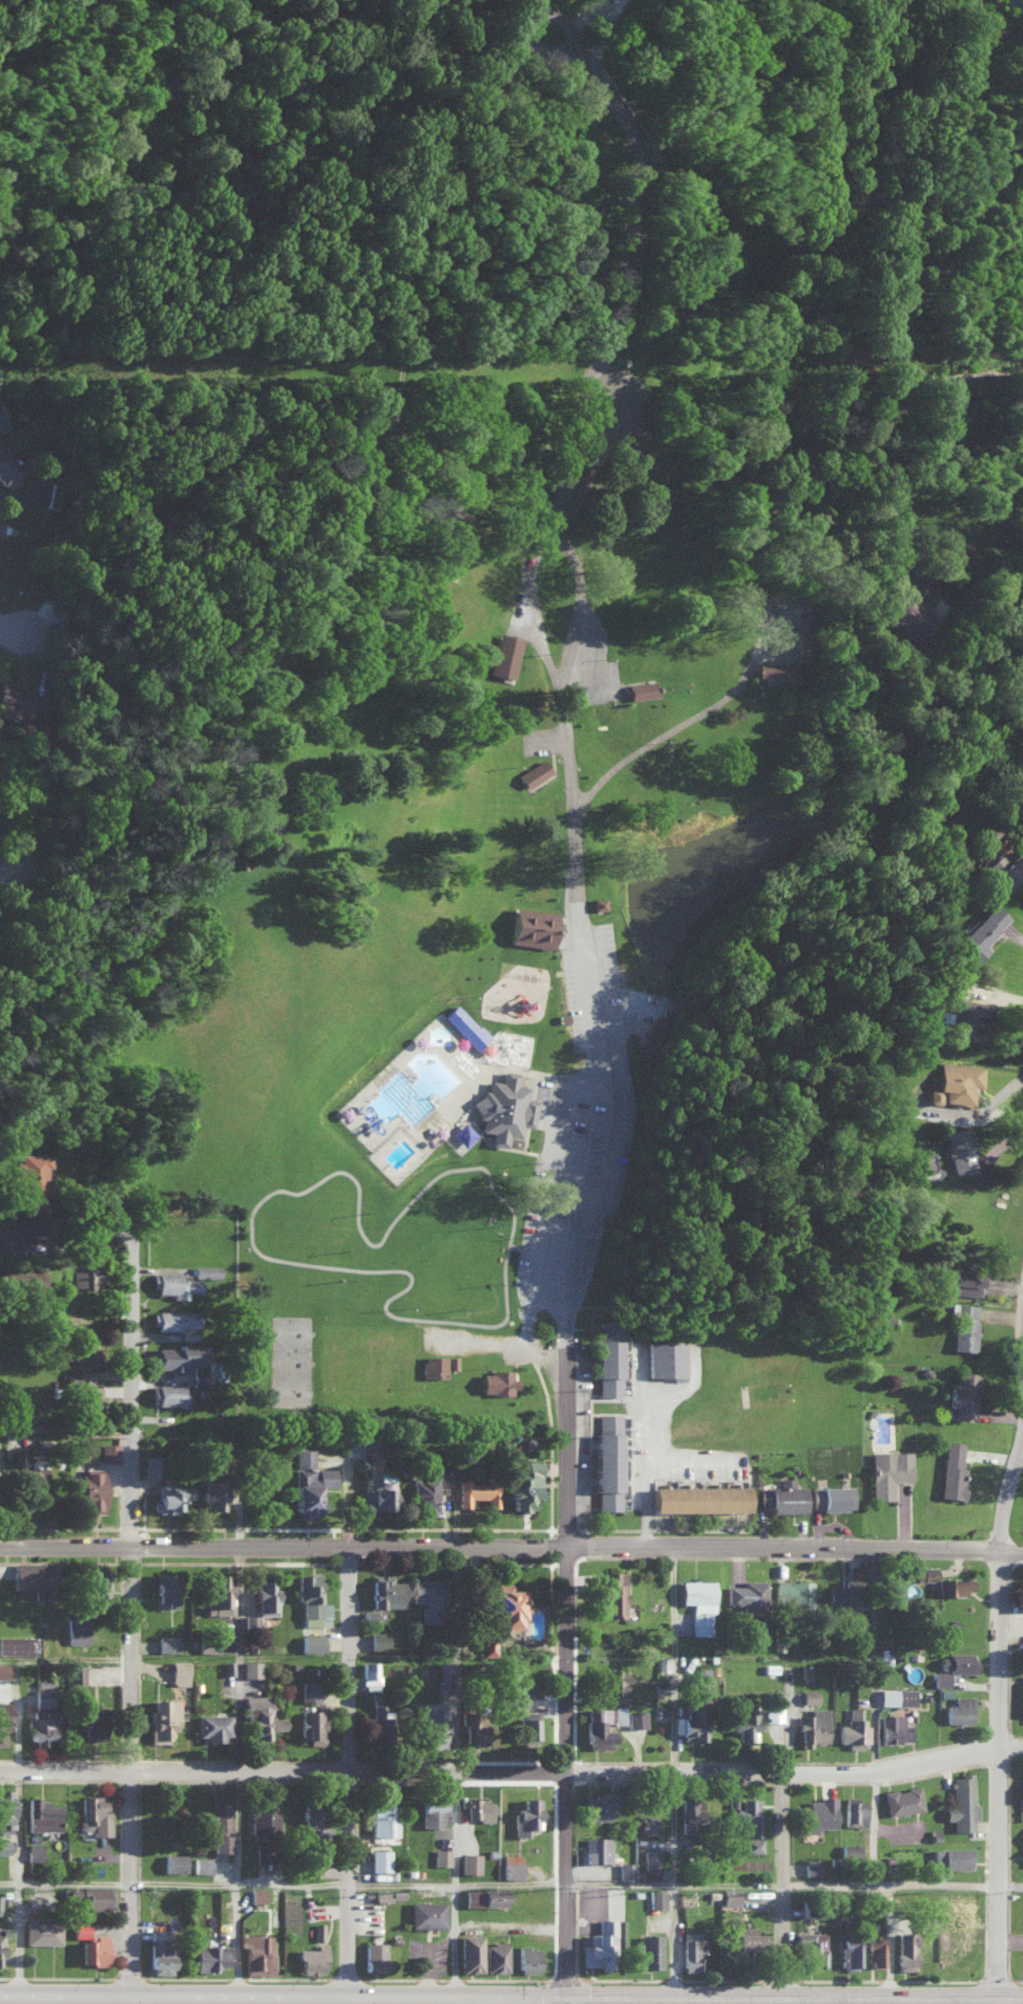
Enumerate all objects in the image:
building: (1021, 2)
road: (592, 28)
road: (631, 303)
road: (993, 372)
building: (941, 414)
building: (2, 422)
building: (650, 448)
building: (637, 456)
building: (1, 525)
road: (558, 544)
building: (455, 551)
road: (989, 562)
building: (904, 613)
road: (18, 642)
building: (504, 654)
building: (517, 654)
park: (525, 660)
building: (782, 668)
building: (641, 689)
building: (21, 702)
road: (702, 723)
building: (34, 740)
road: (581, 761)
building: (533, 772)
building: (545, 774)
road: (585, 859)
building: (1008, 868)
road: (18, 882)
building: (598, 902)
building: (611, 910)
building: (545, 929)
building: (982, 931)
road: (599, 987)
parking lot: (602, 991)
building: (965, 1015)
building: (575, 1023)
building: (466, 1025)
building: (479, 1027)
building: (954, 1082)
building: (516, 1107)
road: (972, 1110)
building: (475, 1133)
building: (958, 1150)
building: (33, 1179)
road: (560, 1192)
road: (608, 1195)
parking lot: (587, 1198)
road: (17, 1235)
building: (207, 1270)
building: (88, 1272)
building: (29, 1276)
building: (967, 1280)
building: (175, 1283)
building: (176, 1318)
building: (965, 1326)
road: (512, 1346)
building: (175, 1355)
building: (609, 1356)
building: (666, 1358)
building: (81, 1359)
park: (353, 1362)
park: (381, 1362)
park: (410, 1362)
building: (464, 1362)
building: (446, 1366)
building: (199, 1376)
building: (509, 1377)
building: (964, 1393)
building: (89, 1399)
road: (71, 1424)
road: (578, 1433)
building: (370, 1447)
building: (109, 1451)
building: (304, 1456)
building: (608, 1460)
road: (700, 1460)
building: (151, 1464)
building: (449, 1470)
building: (889, 1470)
building: (953, 1470)
building: (31, 1473)
road: (657, 1474)
building: (213, 1481)
building: (525, 1484)
building: (310, 1488)
building: (90, 1490)
building: (477, 1491)
road: (1004, 1491)
building: (379, 1493)
building: (169, 1494)
building: (425, 1494)
building: (782, 1495)
building: (833, 1496)
building: (700, 1497)
road: (497, 1547)
road: (1008, 1554)
building: (926, 1572)
building: (36, 1578)
building: (96, 1581)
building: (954, 1584)
building: (167, 1588)
building: (386, 1590)
building: (613, 1592)
building: (793, 1592)
building: (844, 1592)
building: (1022, 1592)
building: (219, 1595)
building: (265, 1596)
building: (428, 1596)
building: (749, 1597)
building: (312, 1599)
building: (506, 1603)
building: (699, 1603)
building: (369, 1614)
road: (142, 1618)
road: (1009, 1620)
building: (251, 1622)
building: (76, 1629)
building: (378, 1639)
building: (168, 1642)
building: (311, 1642)
building: (18, 1644)
building: (208, 1644)
building: (487, 1644)
road: (17, 1659)
road: (674, 1660)
road: (874, 1660)
road: (31, 1661)
building: (958, 1661)
building: (663, 1662)
building: (228, 1666)
building: (5, 1668)
building: (251, 1668)
building: (805, 1670)
building: (179, 1671)
building: (76, 1673)
building: (444, 1673)
building: (369, 1674)
building: (941, 1678)
building: (615, 1684)
building: (309, 1689)
building: (809, 1695)
building: (897, 1696)
building: (517, 1698)
building: (1022, 1698)
building: (773, 1705)
building: (960, 1709)
building: (42, 1712)
building: (694, 1712)
building: (380, 1714)
building: (261, 1716)
building: (3, 1717)
building: (636, 1718)
building: (163, 1719)
building: (745, 1720)
building: (92, 1721)
building: (312, 1724)
building: (433, 1724)
building: (213, 1725)
building: (813, 1725)
building: (473, 1726)
building: (528, 1726)
building: (598, 1727)
building: (852, 1728)
building: (894, 1728)
road: (359, 1734)
road: (942, 1759)
road: (238, 1771)
road: (577, 1771)
road: (431, 1772)
road: (468, 1775)
road: (998, 1775)
building: (1022, 1778)
building: (902, 1799)
building: (961, 1802)
building: (600, 1805)
building: (479, 1808)
building: (5, 1811)
building: (434, 1811)
building: (855, 1811)
building: (817, 1813)
building: (41, 1814)
building: (93, 1814)
building: (263, 1814)
building: (527, 1815)
building: (691, 1815)
building: (747, 1815)
building: (312, 1816)
building: (382, 1817)
building: (648, 1822)
building: (219, 1824)
building: (753, 1844)
building: (4, 1846)
building: (597, 1849)
building: (849, 1849)
building: (34, 1850)
building: (263, 1852)
building: (441, 1856)
building: (951, 1857)
building: (379, 1859)
building: (174, 1862)
building: (469, 1862)
building: (650, 1863)
building: (202, 1864)
building: (512, 1865)
building: (811, 1868)
building: (626, 1870)
road: (28, 1882)
road: (892, 1883)
road: (512, 1884)
road: (792, 1884)
road: (683, 1888)
building: (389, 1893)
building: (257, 1894)
building: (732, 1894)
building: (473, 1896)
building: (96, 1897)
building: (656, 1897)
building: (494, 1898)
building: (427, 1914)
building: (80, 1929)
building: (318, 1930)
building: (42, 1932)
building: (748, 1938)
building: (0, 1945)
building: (600, 1945)
building: (812, 1946)
building: (93, 1949)
building: (650, 1950)
building: (876, 1950)
building: (906, 1950)
building: (470, 1951)
building: (693, 1951)
building: (850, 1951)
building: (159, 1952)
building: (257, 1952)
building: (375, 1955)
building: (210, 1956)
building: (495, 1956)
building: (312, 1958)
building: (528, 1958)
road: (496, 1995)
traffic signals: (579, 1996)
road: (1008, 1997)
road: (29, 1999)
road: (238, 1999)
road: (578, 2000)
road: (772, 2000)
road: (894, 2000)
road: (993, 2000)

